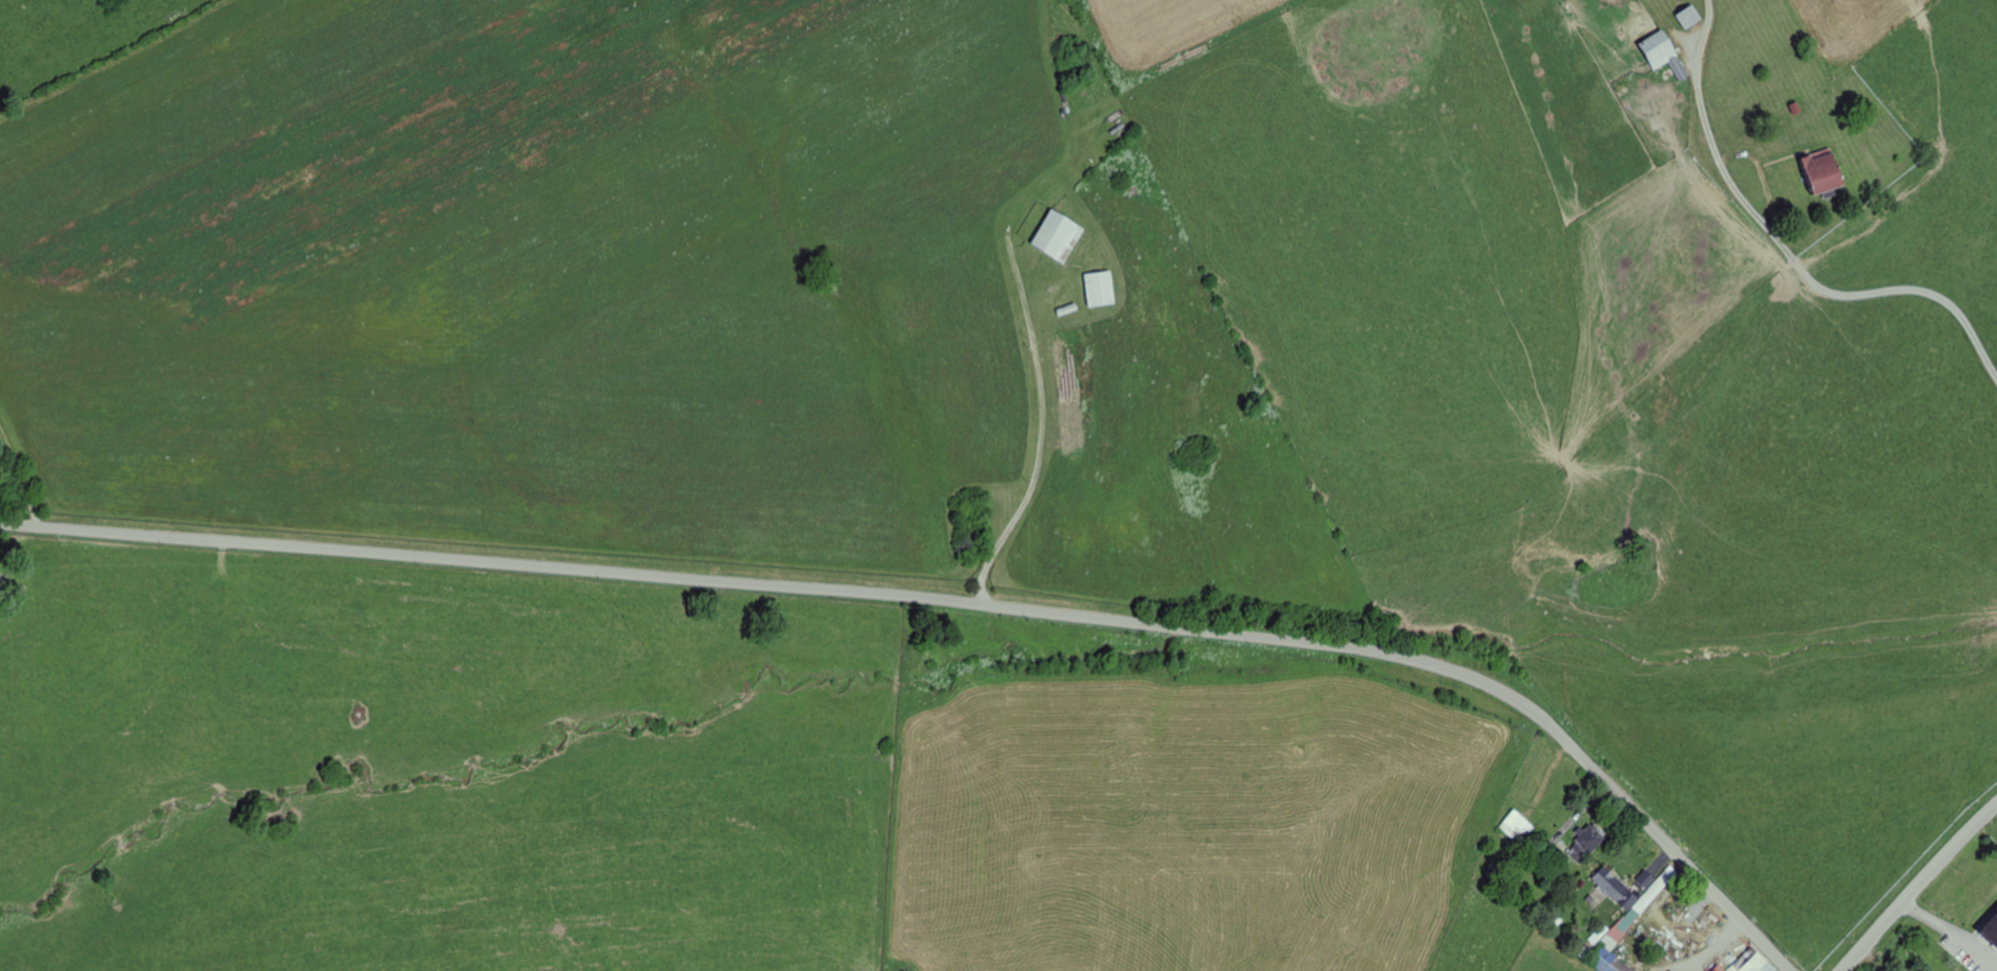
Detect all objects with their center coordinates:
building: (1663, 53)
building: (1822, 170)
building: (1058, 236)
building: (1100, 288)
road: (1876, 304)
road: (956, 601)
road: (1995, 622)
crop: (698, 778)
building: (1517, 826)
building: (1611, 885)
road: (1917, 887)
building: (1992, 929)
building: (1609, 962)
building: (1809, 962)
building: (1757, 964)
building: (1718, 968)

